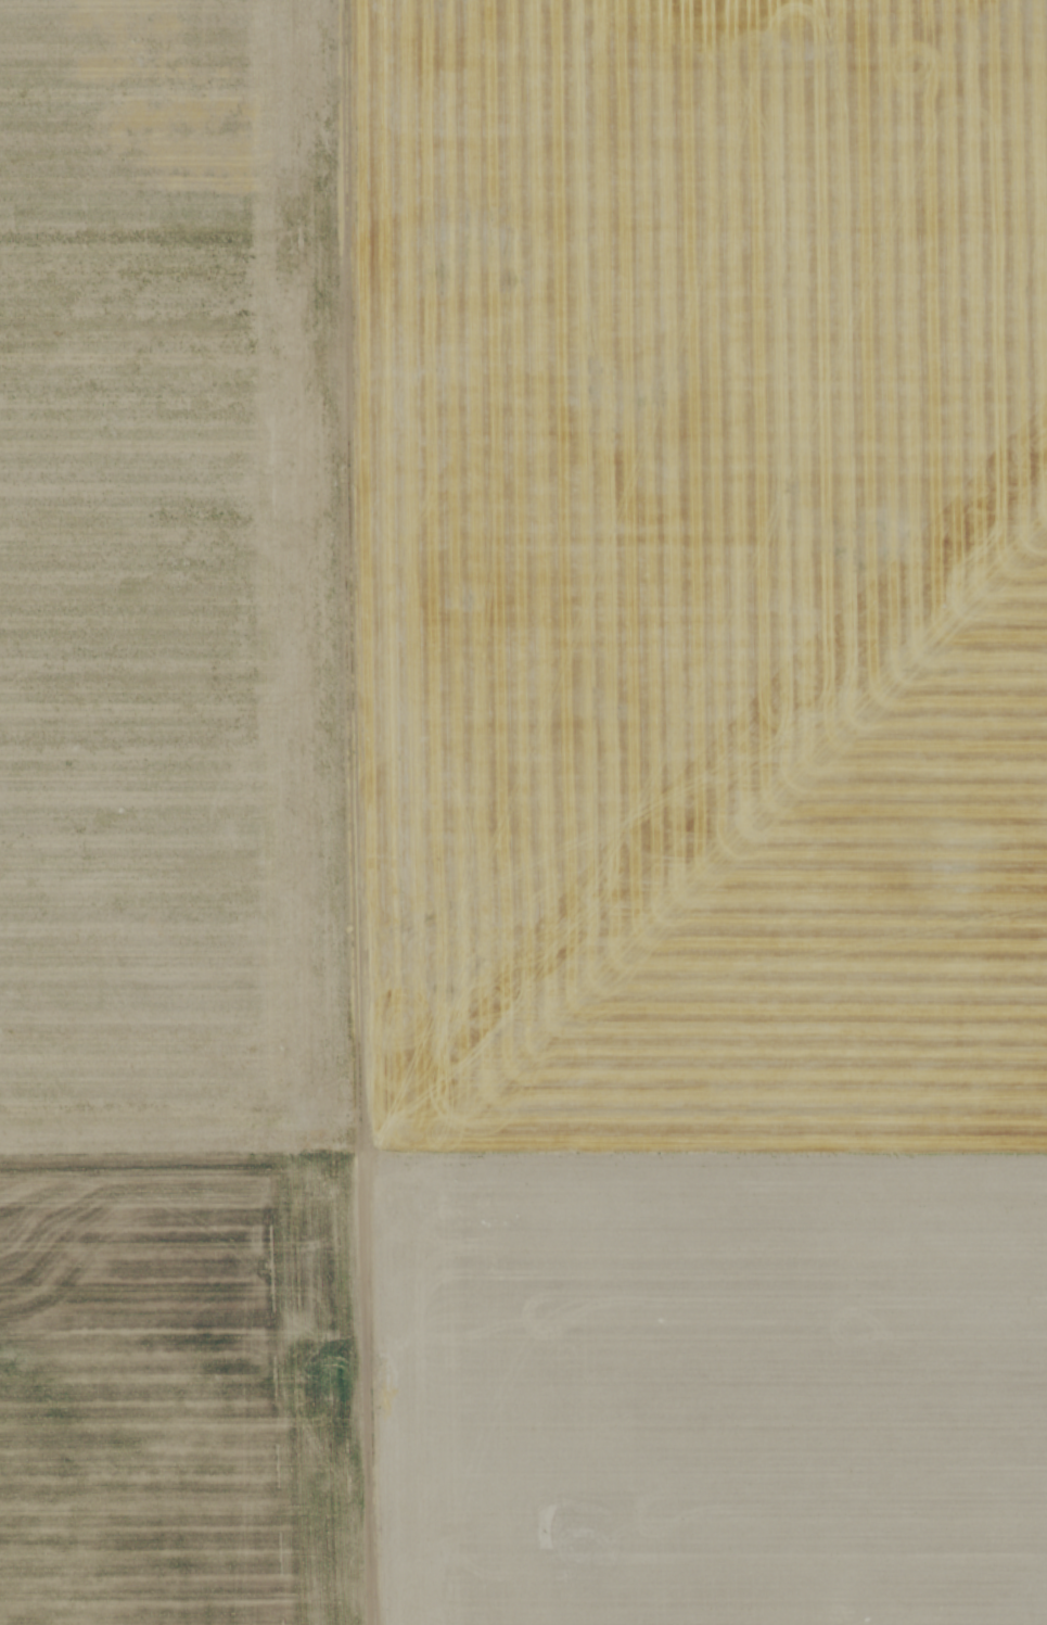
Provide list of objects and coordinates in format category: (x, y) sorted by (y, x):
crop: (523, 812)

